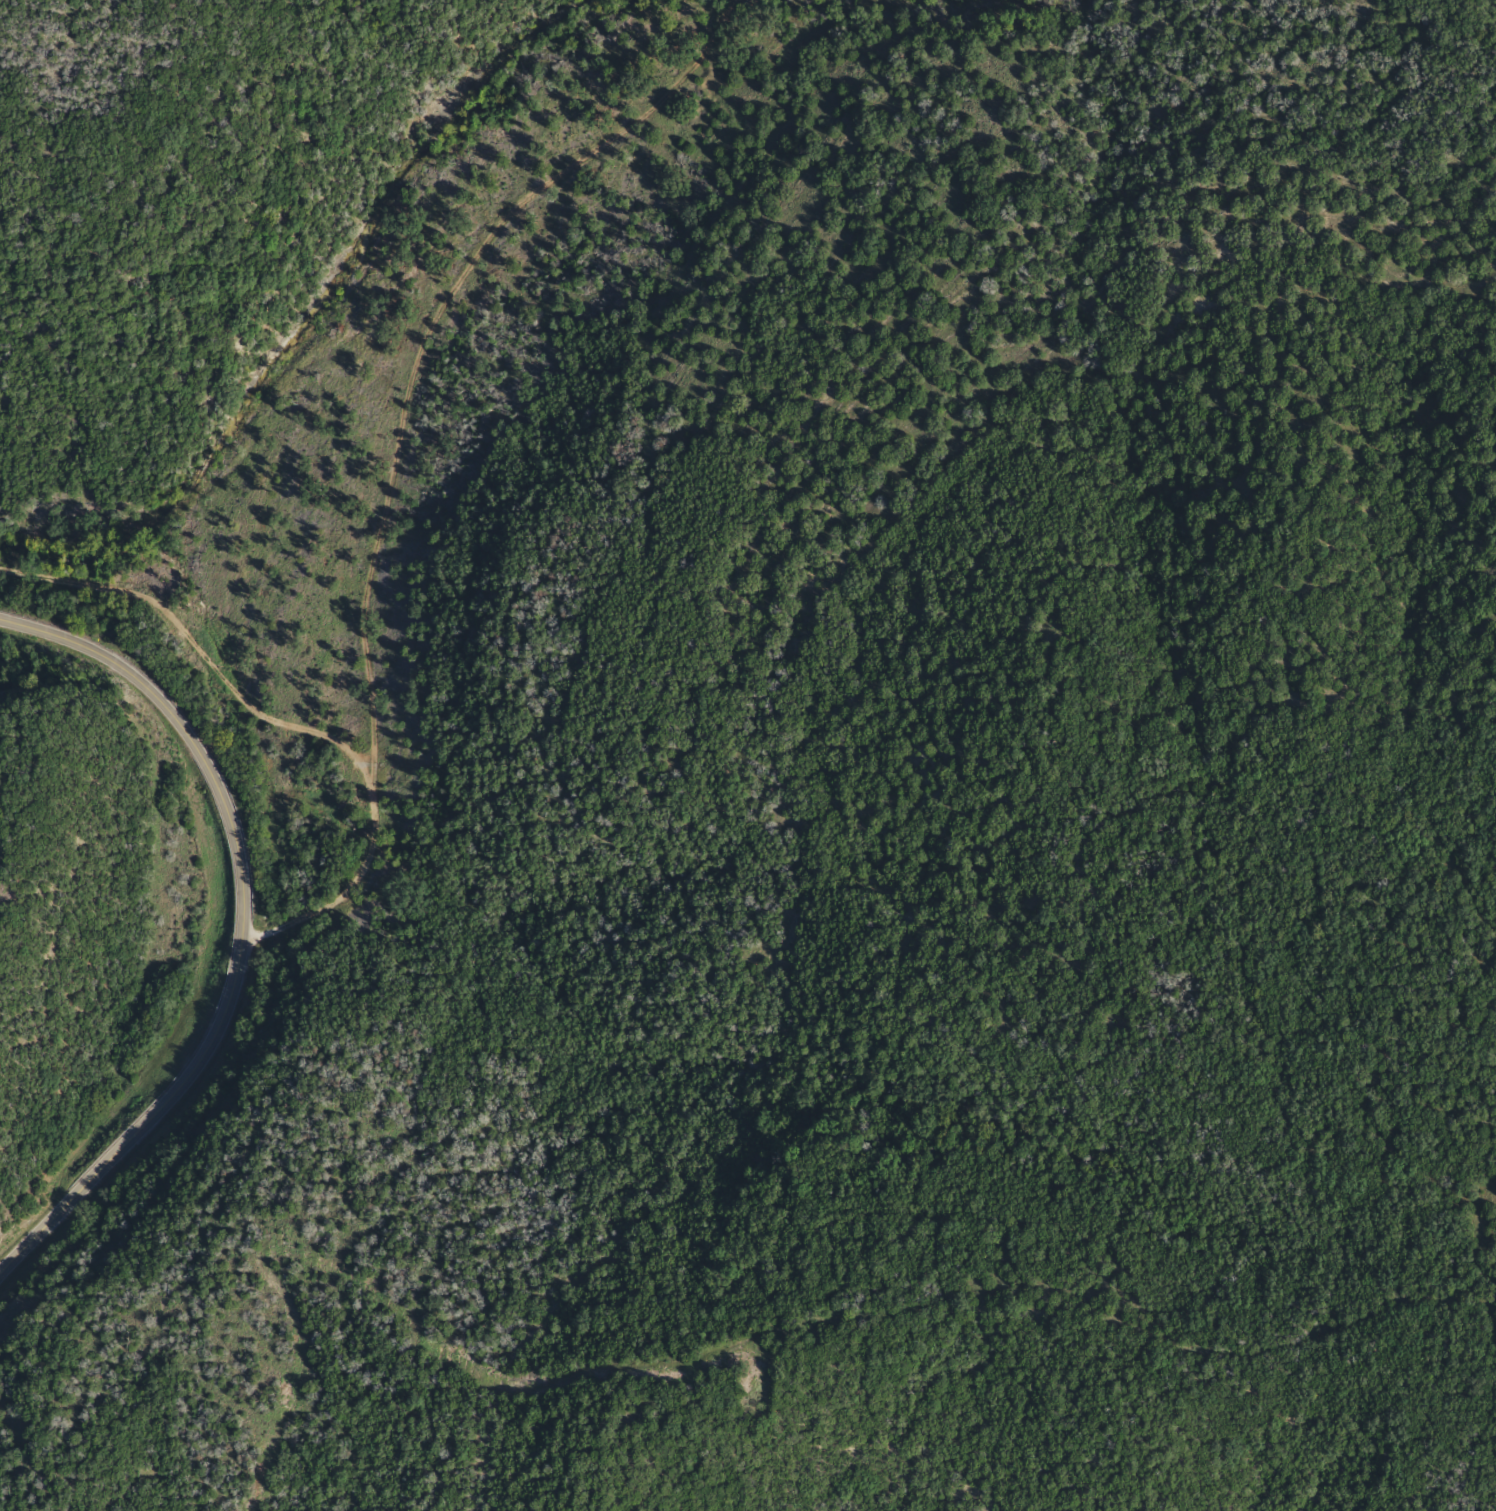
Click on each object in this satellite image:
road: (409, 477)
road: (242, 929)

